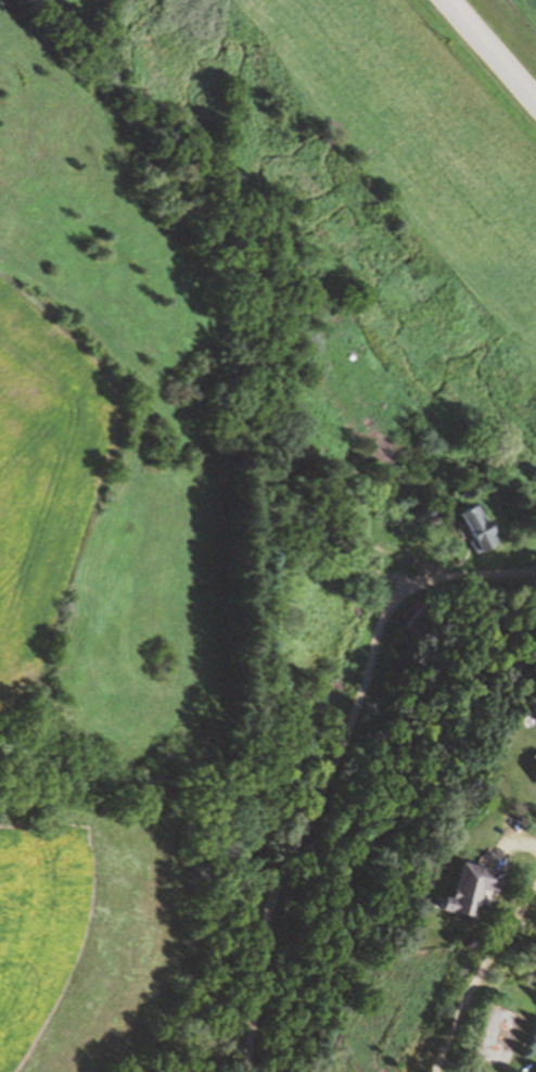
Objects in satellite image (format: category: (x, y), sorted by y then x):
road: (493, 50)
building: (477, 528)
building: (309, 608)
building: (419, 622)
road: (328, 758)
building: (534, 764)
building: (470, 885)
road: (478, 972)

